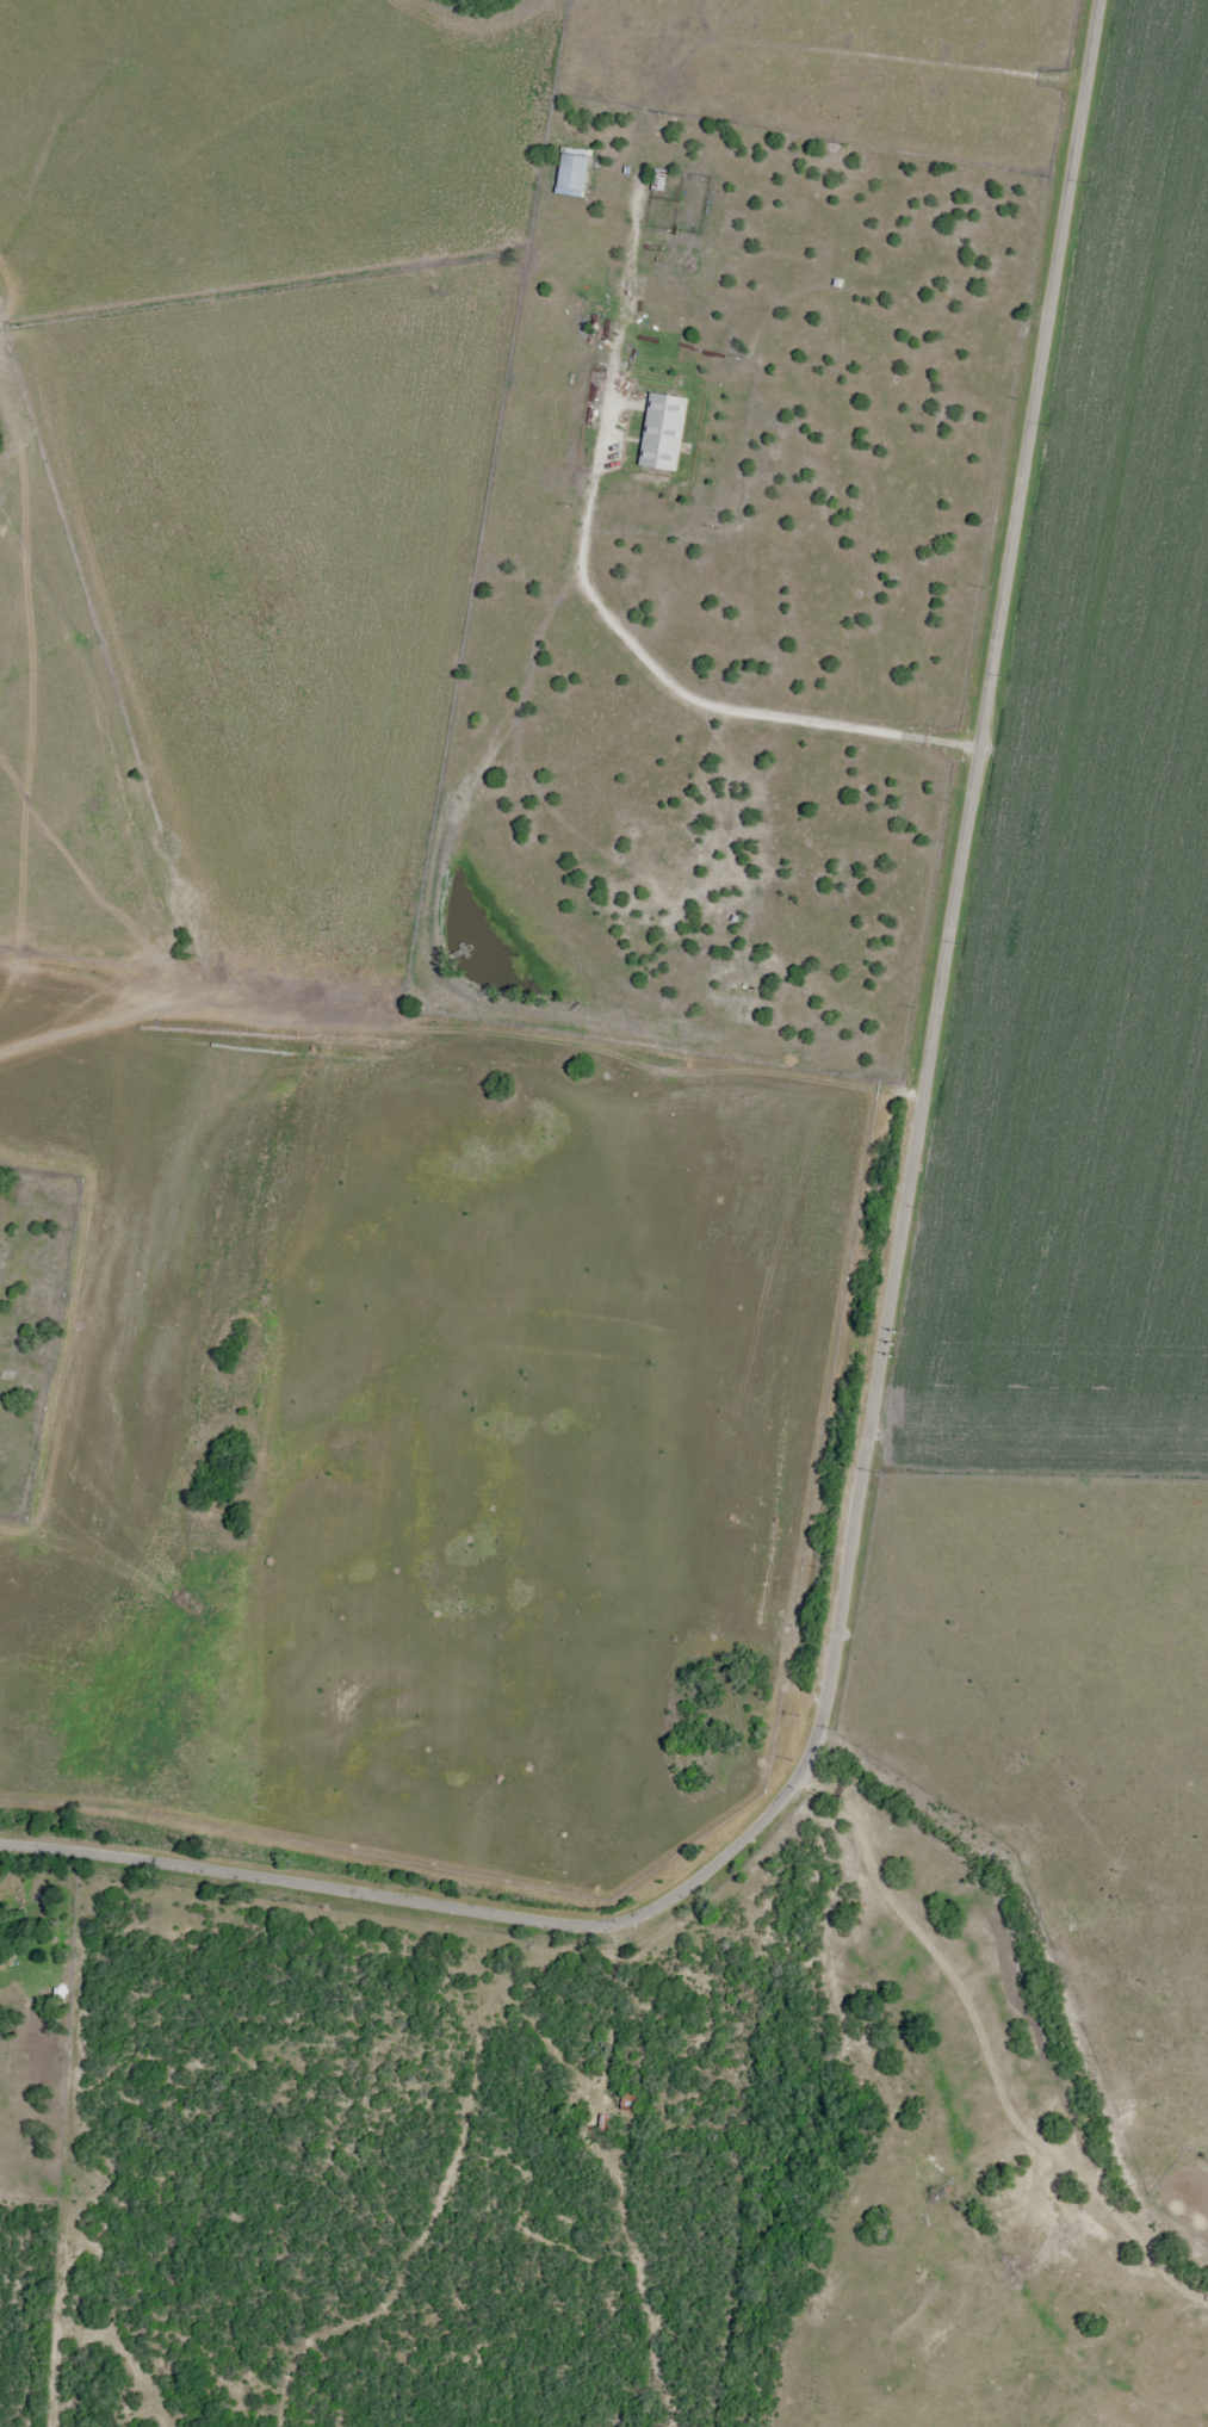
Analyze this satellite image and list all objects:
building: (568, 174)
building: (653, 181)
building: (667, 432)
road: (942, 923)
park: (26, 1307)
road: (392, 1901)

